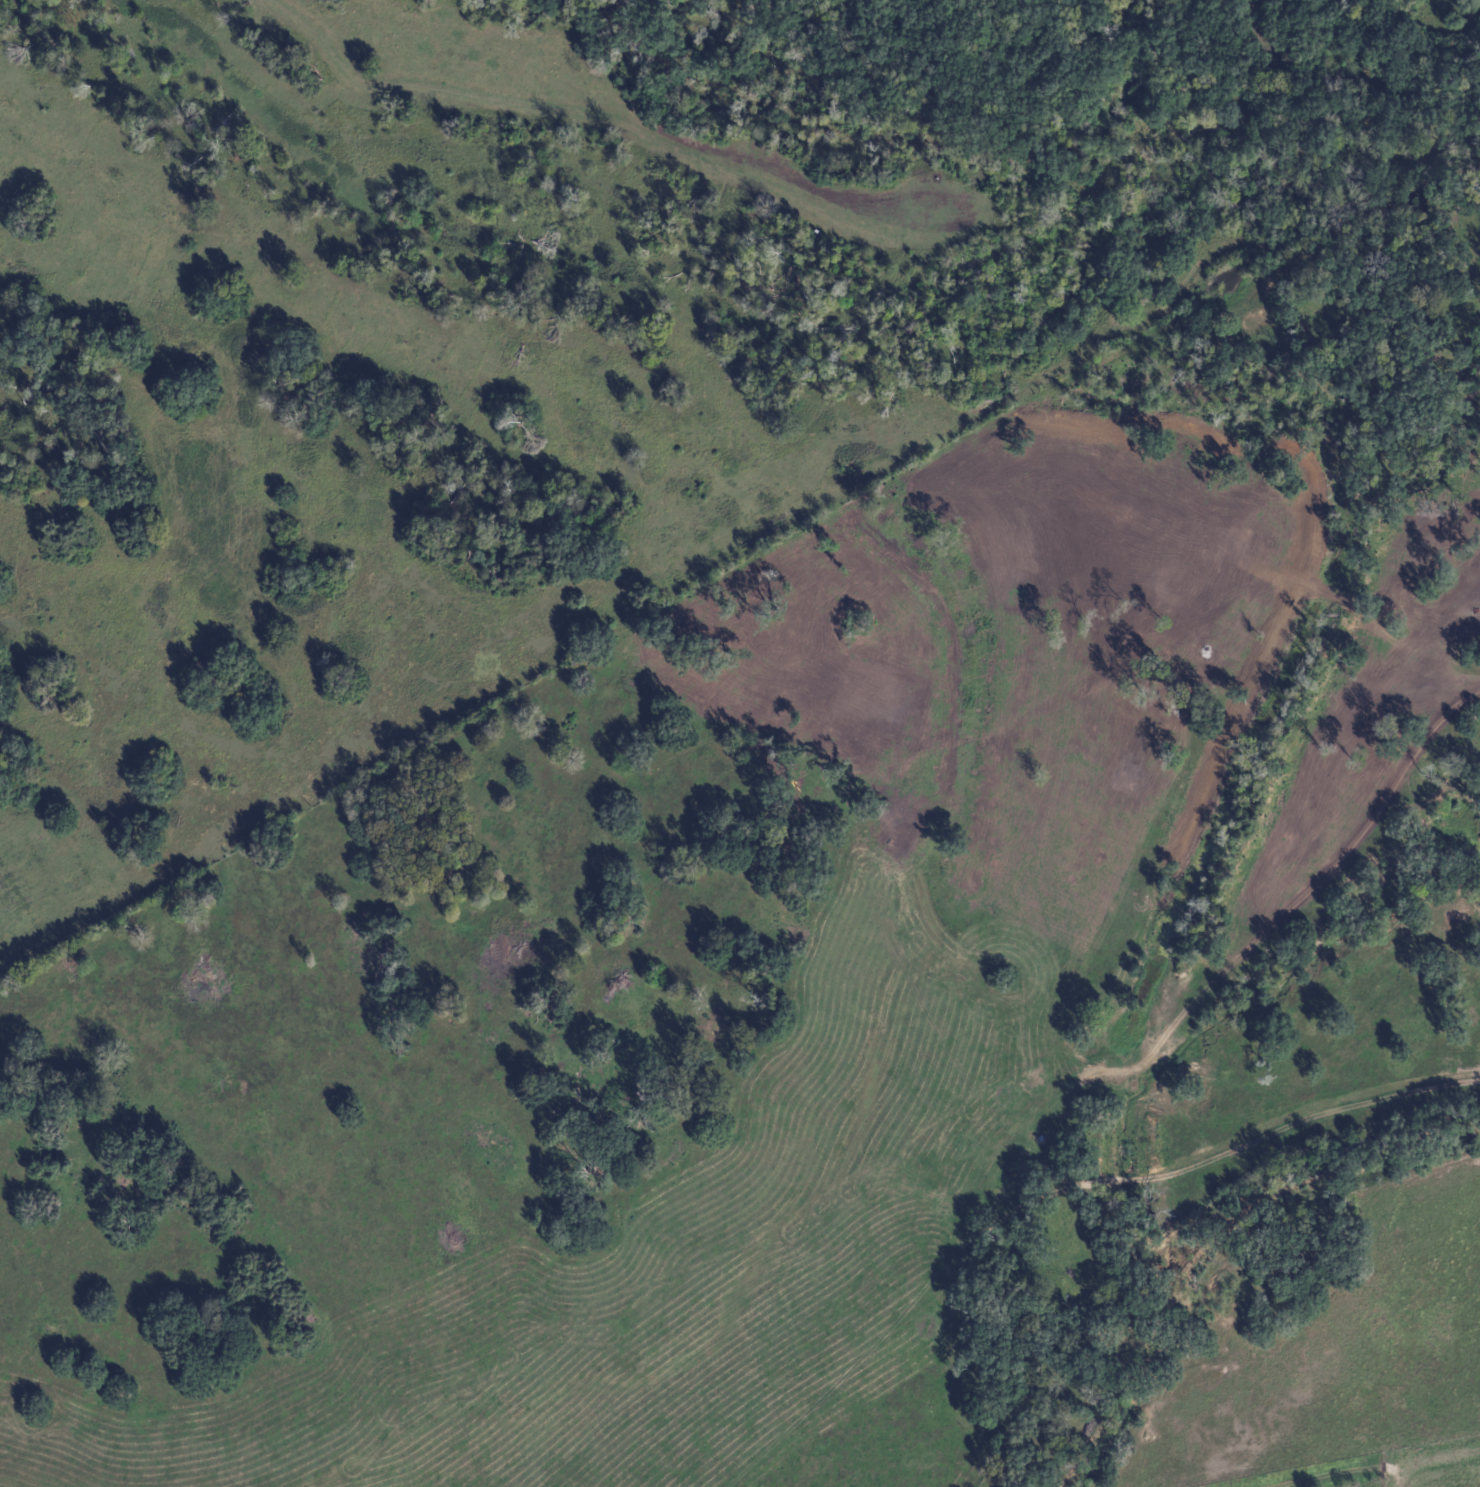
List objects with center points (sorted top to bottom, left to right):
road: (1367, 1468)
road: (1400, 1475)

